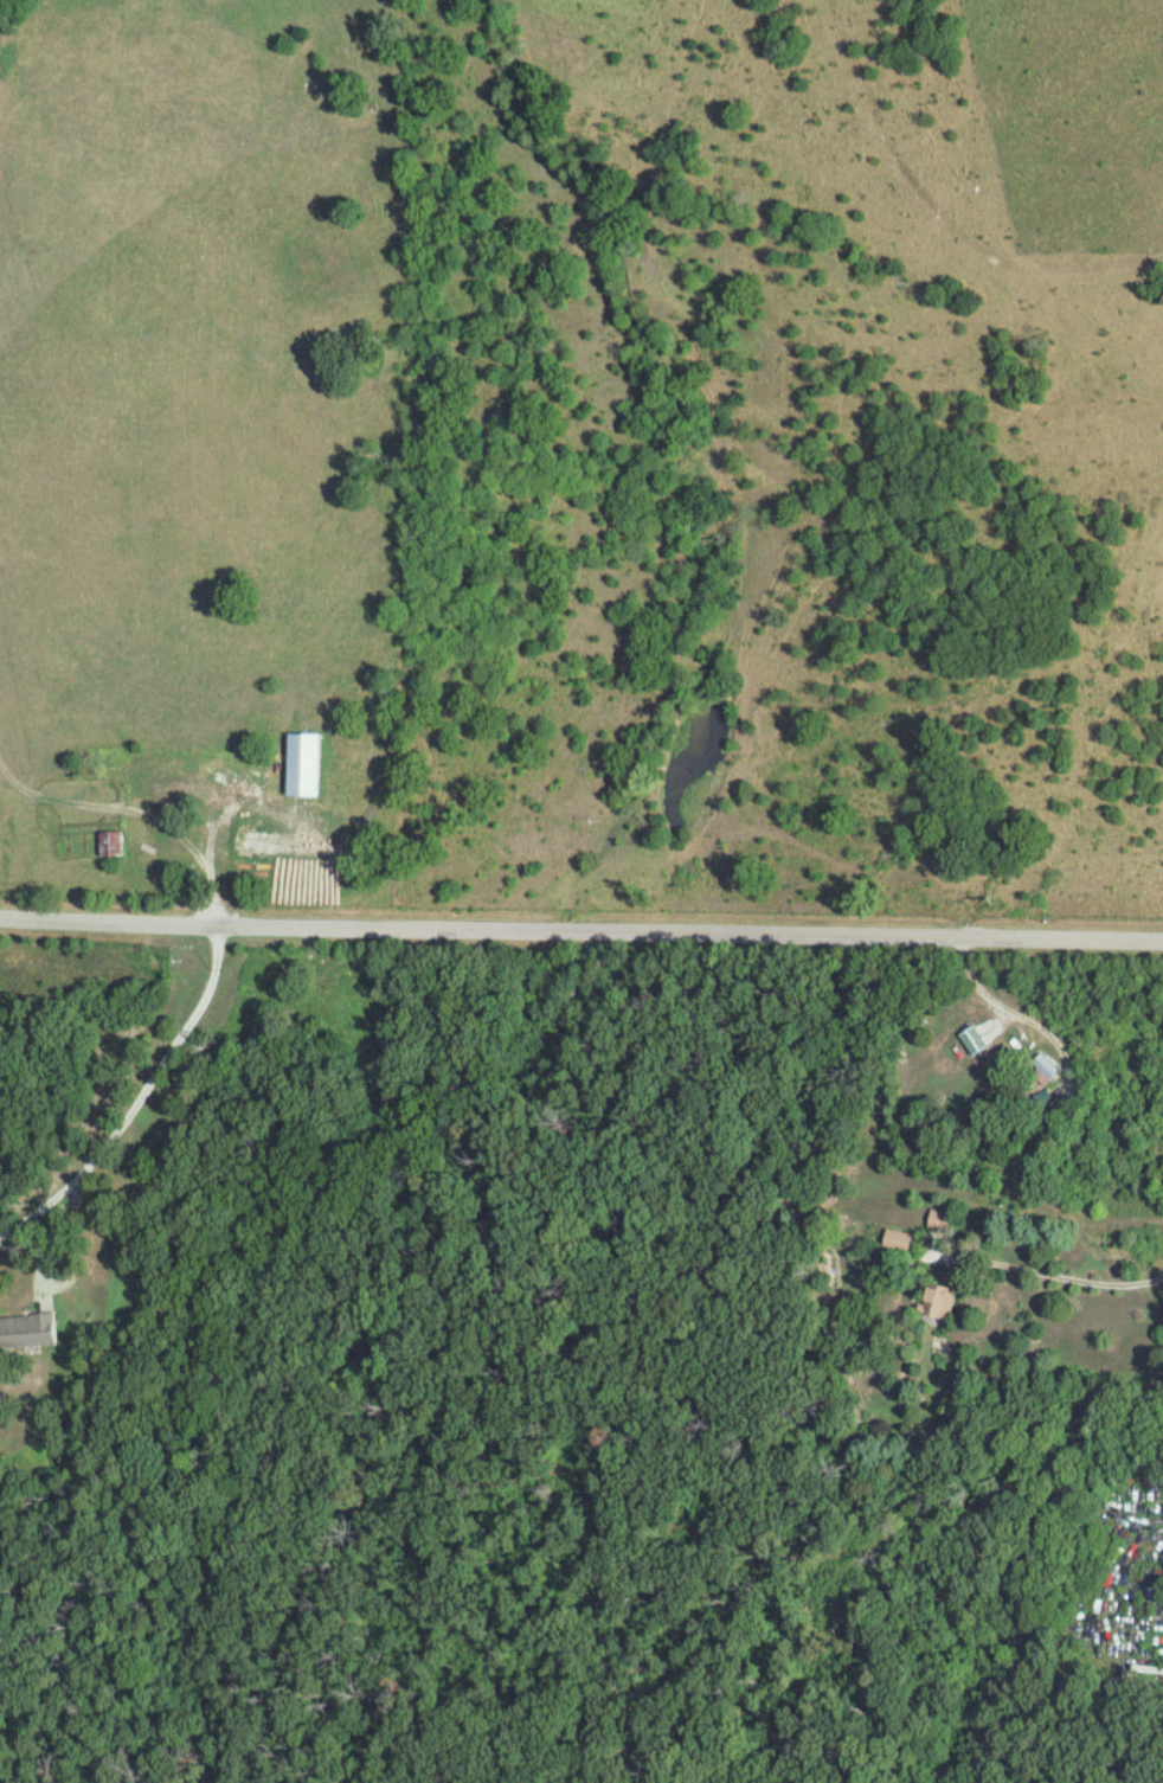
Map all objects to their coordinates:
building: (308, 764)
building: (115, 844)
road: (581, 928)
building: (978, 1040)
building: (1049, 1065)
building: (1048, 1097)
road: (92, 1157)
building: (944, 1219)
building: (902, 1239)
road: (1066, 1284)
building: (945, 1301)
building: (32, 1330)

